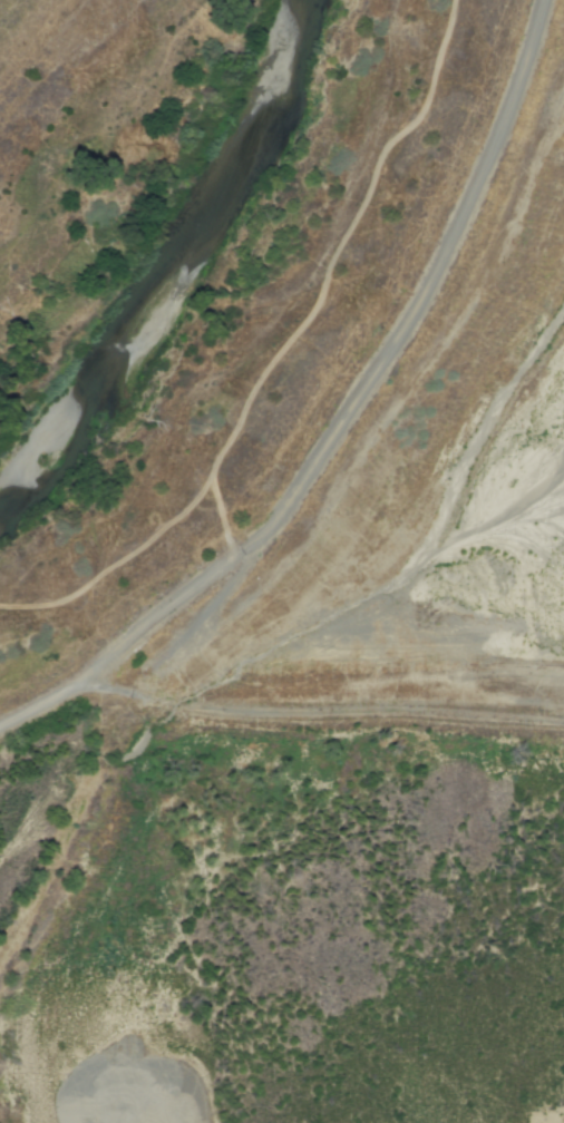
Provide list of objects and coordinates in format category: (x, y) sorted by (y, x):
river: (178, 256)
quarry: (359, 773)

